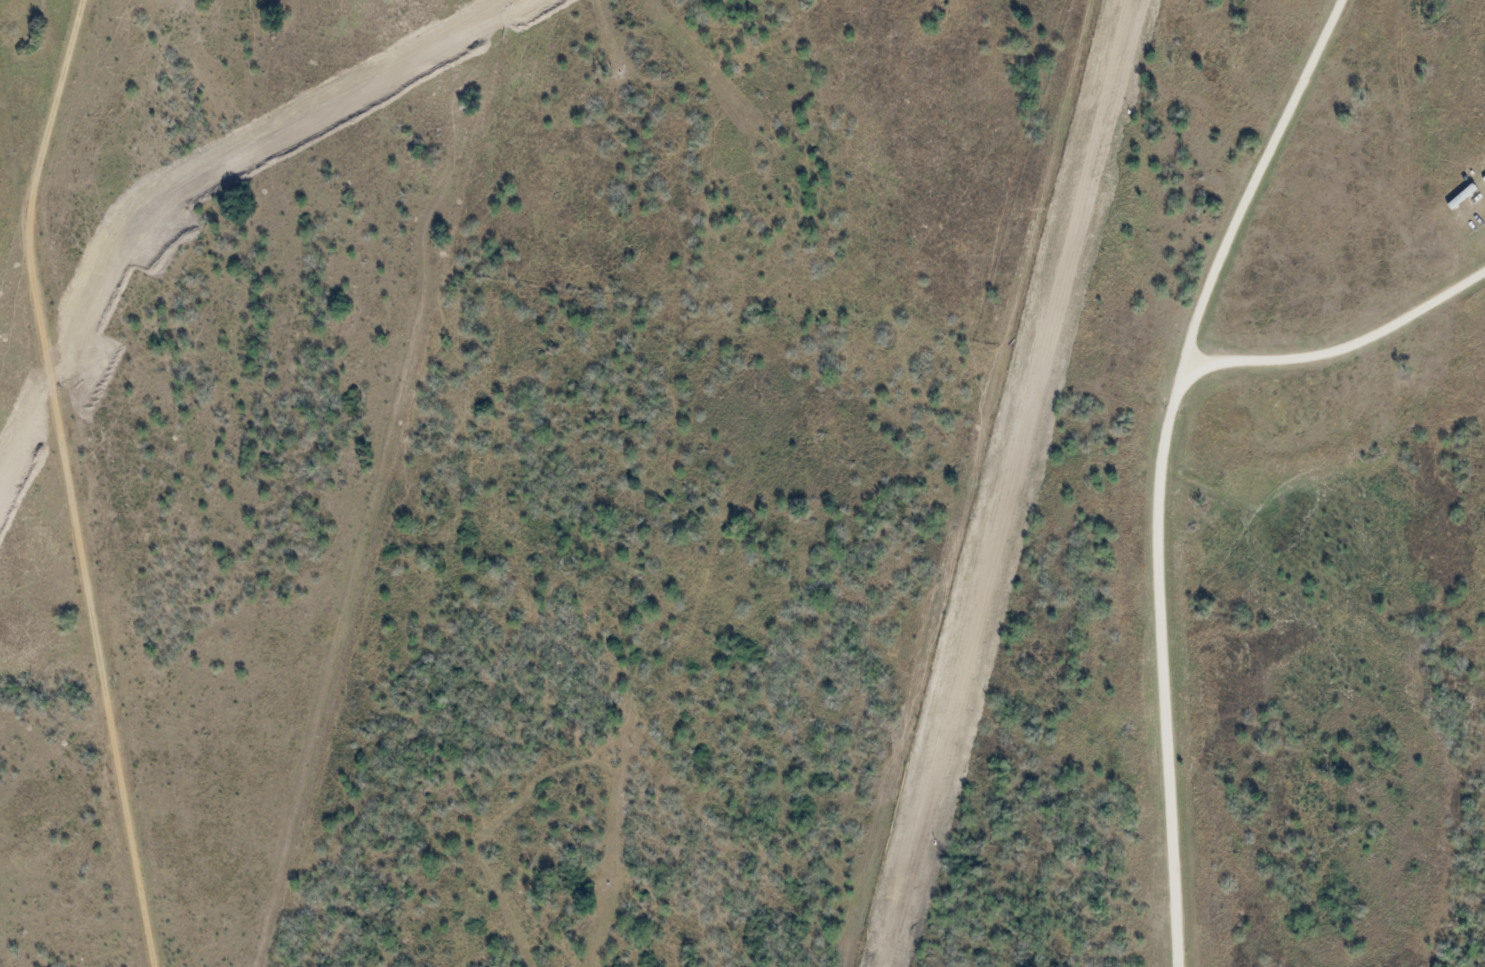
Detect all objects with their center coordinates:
road: (1256, 180)
road: (1343, 350)
road: (70, 481)
road: (1166, 665)

